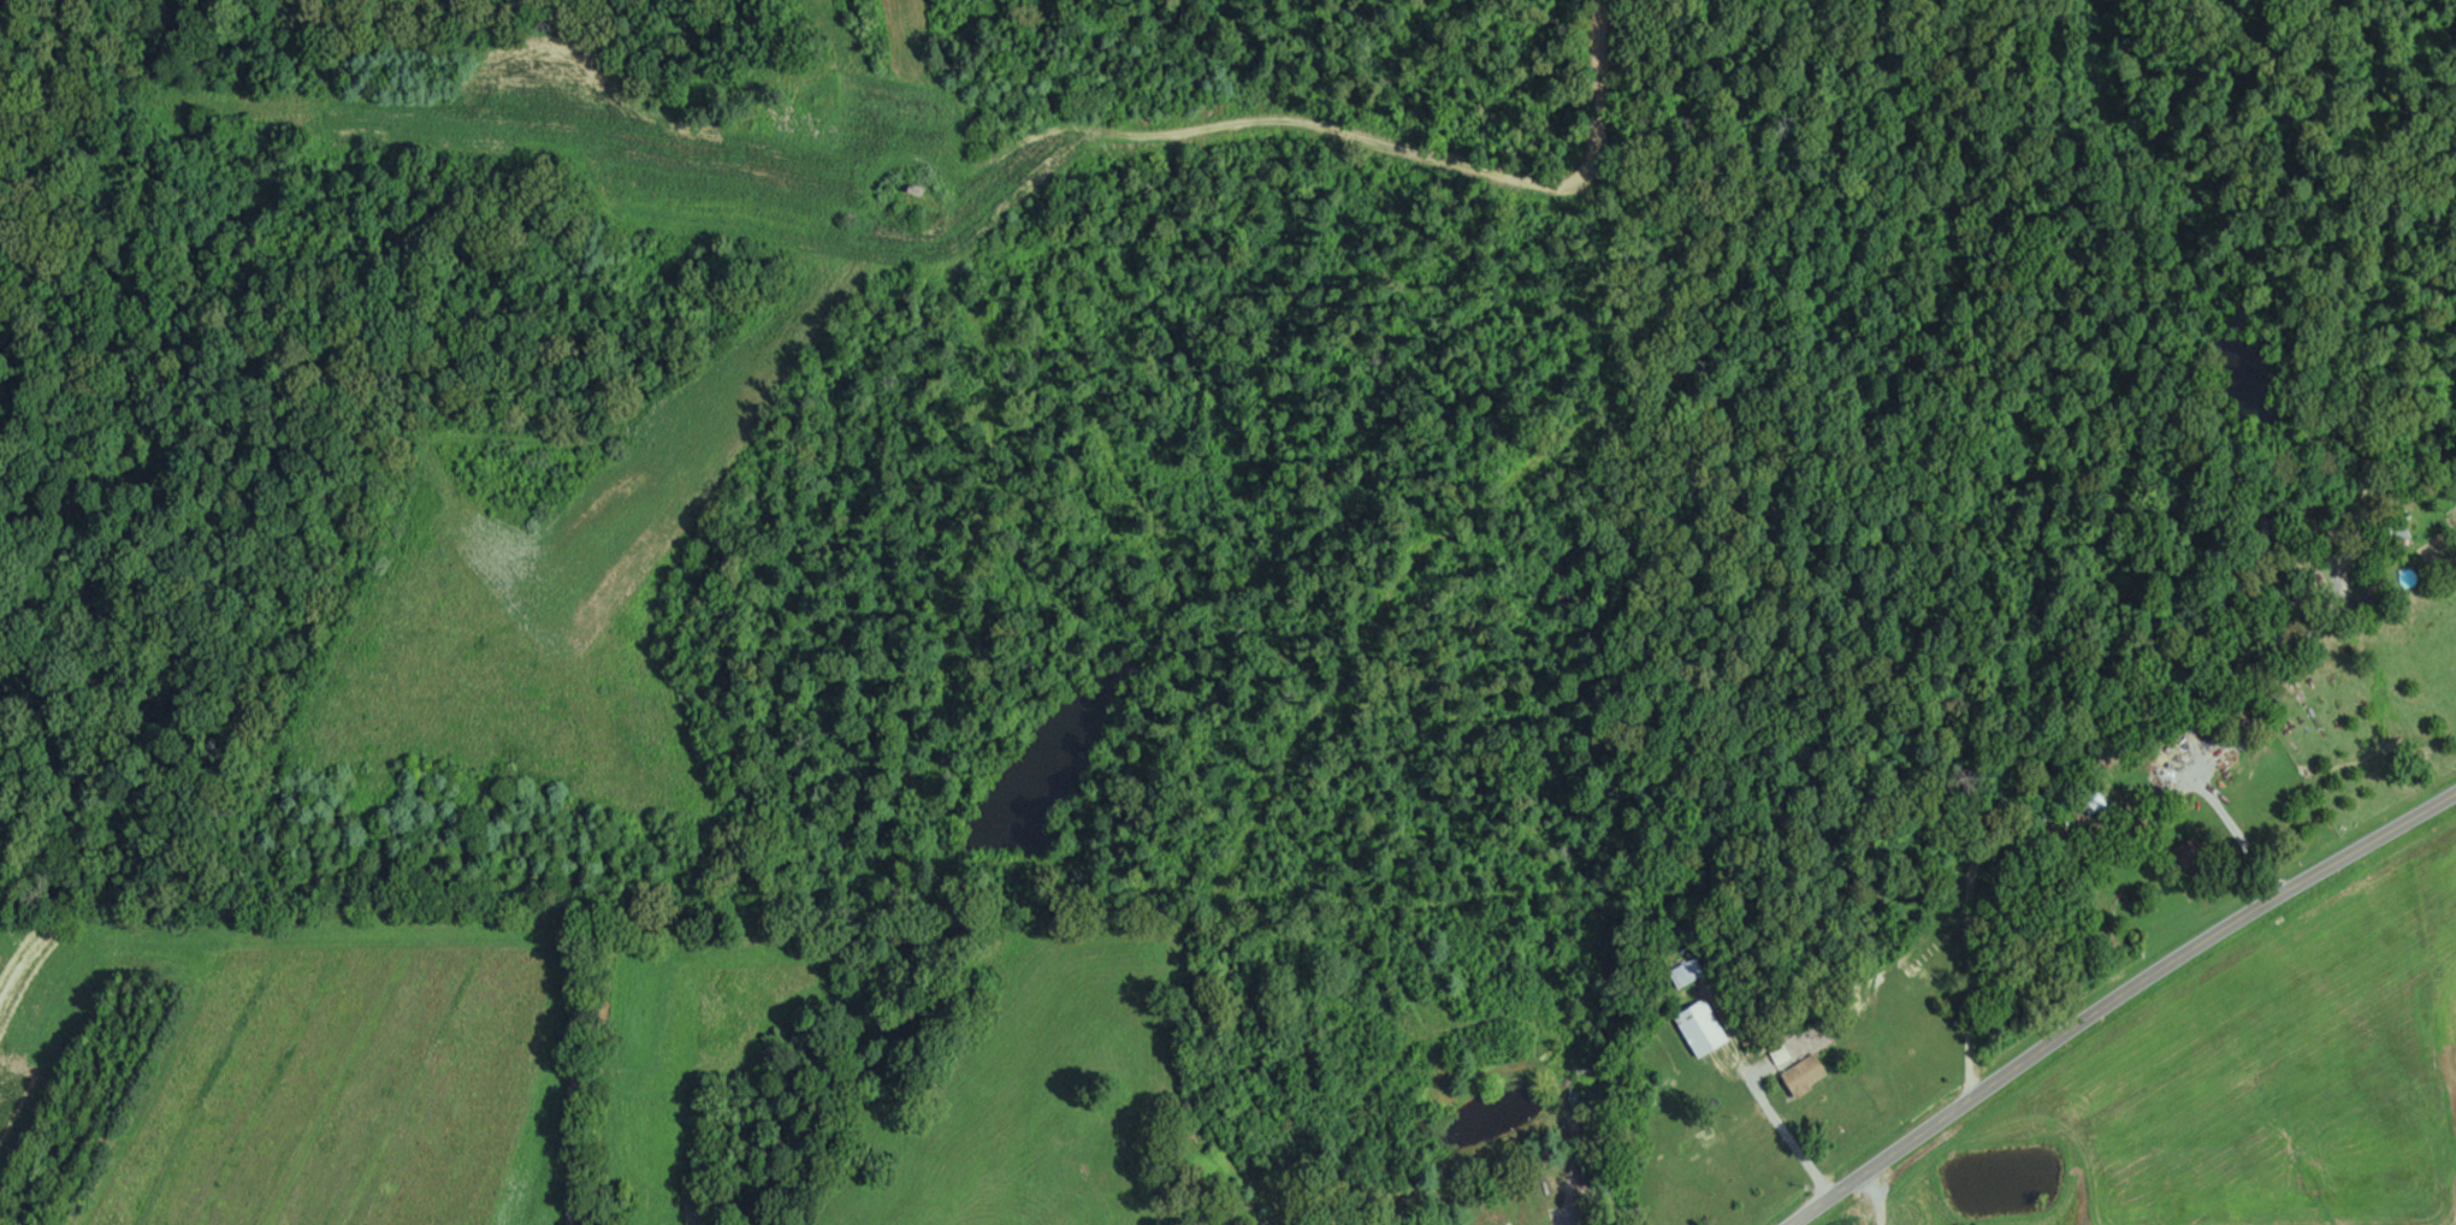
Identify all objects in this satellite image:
road: (1954, 801)
building: (1686, 971)
road: (2112, 999)
building: (1699, 1026)
building: (1803, 1075)
building: (1681, 1160)

